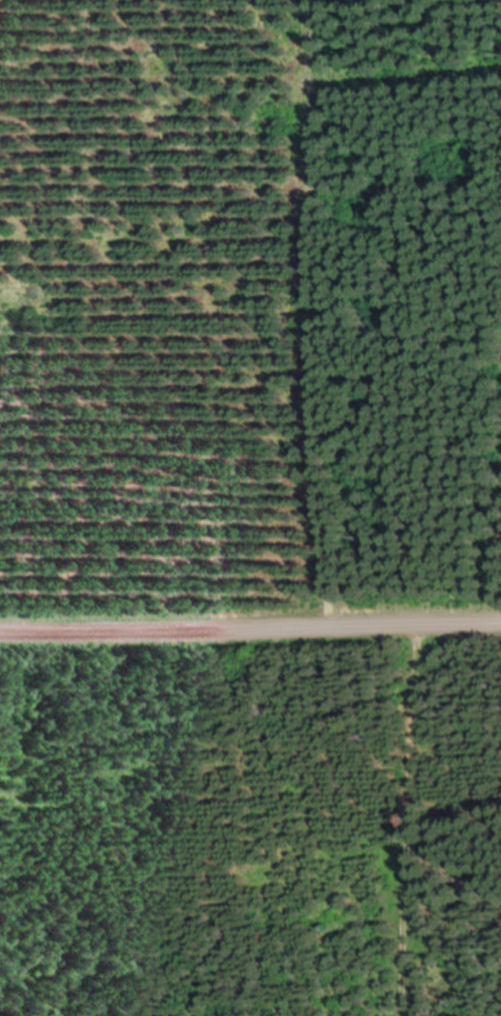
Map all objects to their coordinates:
road: (250, 634)

